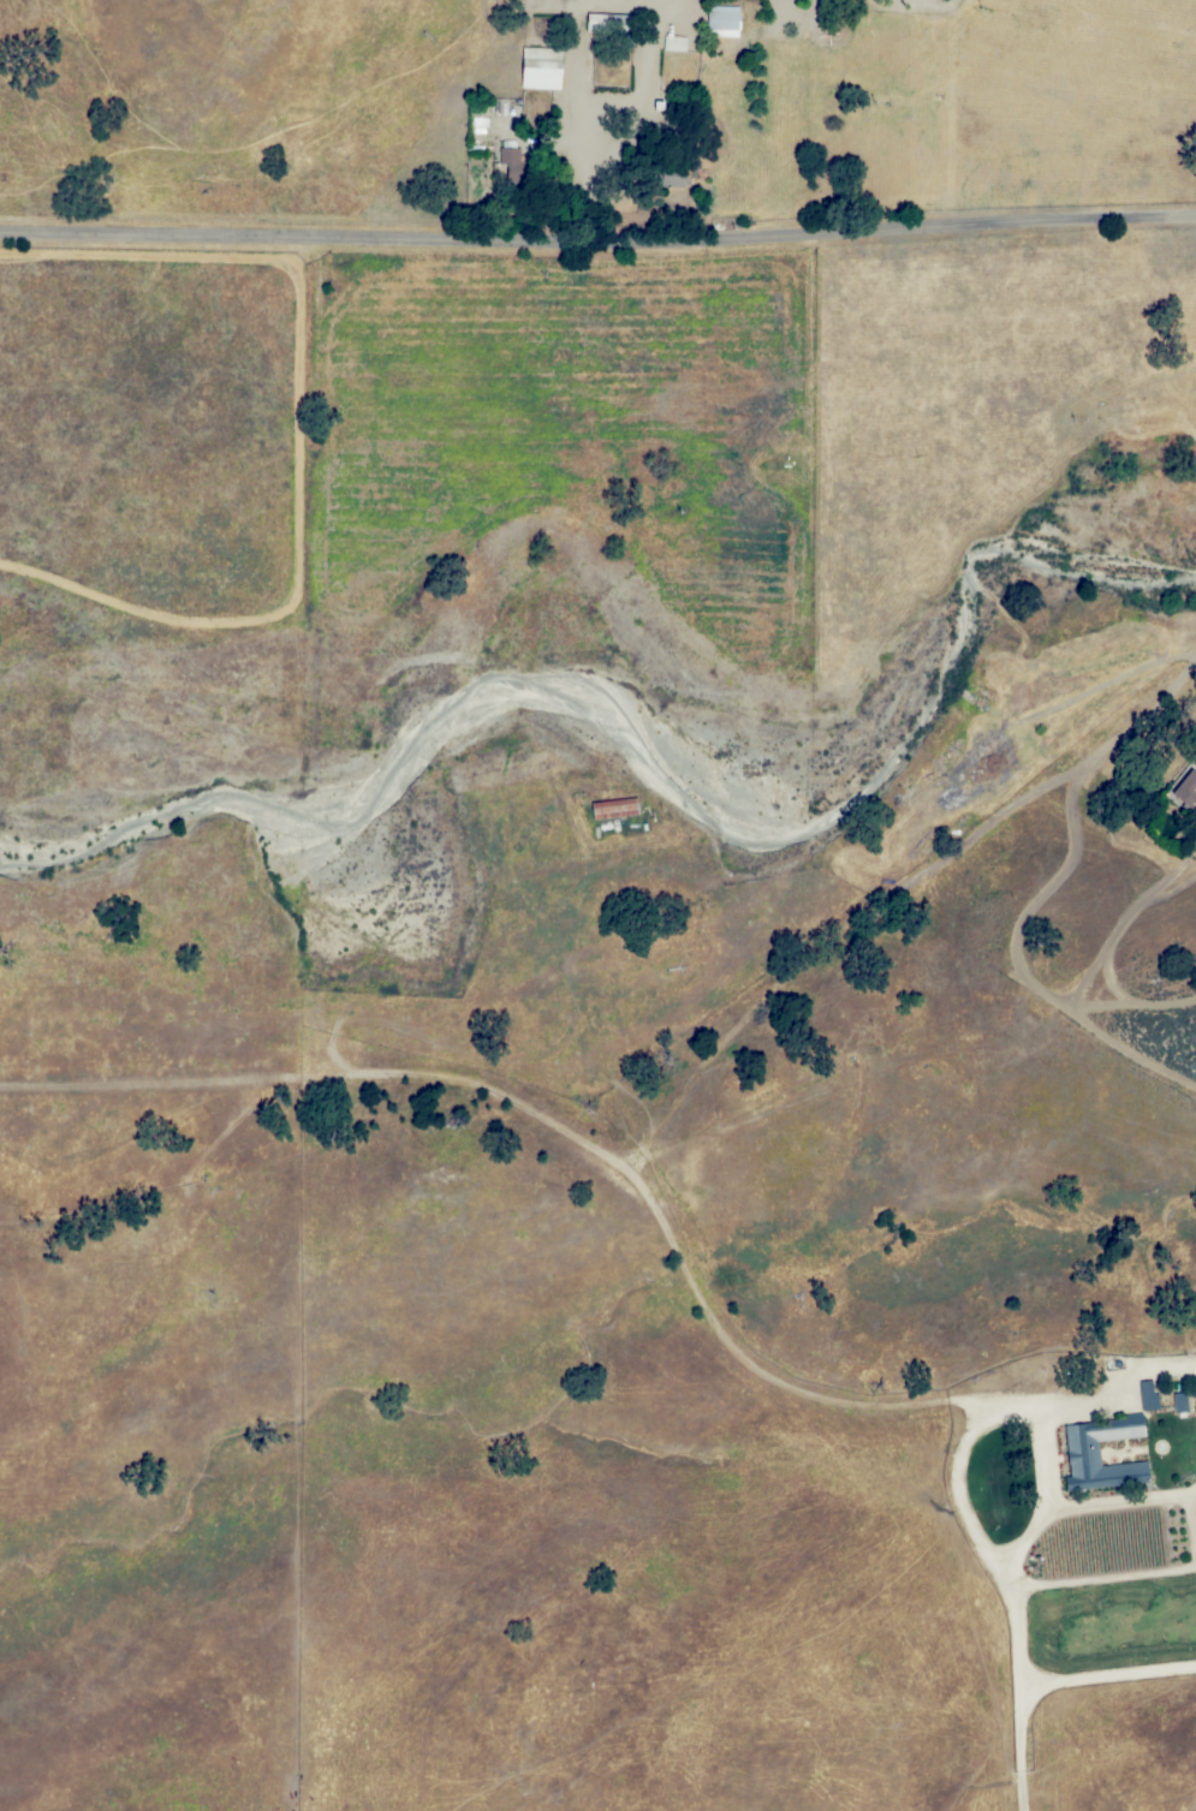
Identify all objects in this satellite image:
building: (721, 19)
building: (606, 23)
building: (672, 41)
building: (539, 66)
building: (477, 123)
building: (507, 157)
building: (674, 174)
road: (597, 246)
building: (1185, 787)
building: (612, 806)
road: (328, 955)
road: (570, 1132)
building: (1146, 1395)
building: (1178, 1400)
building: (1081, 1449)
building: (1195, 1505)

